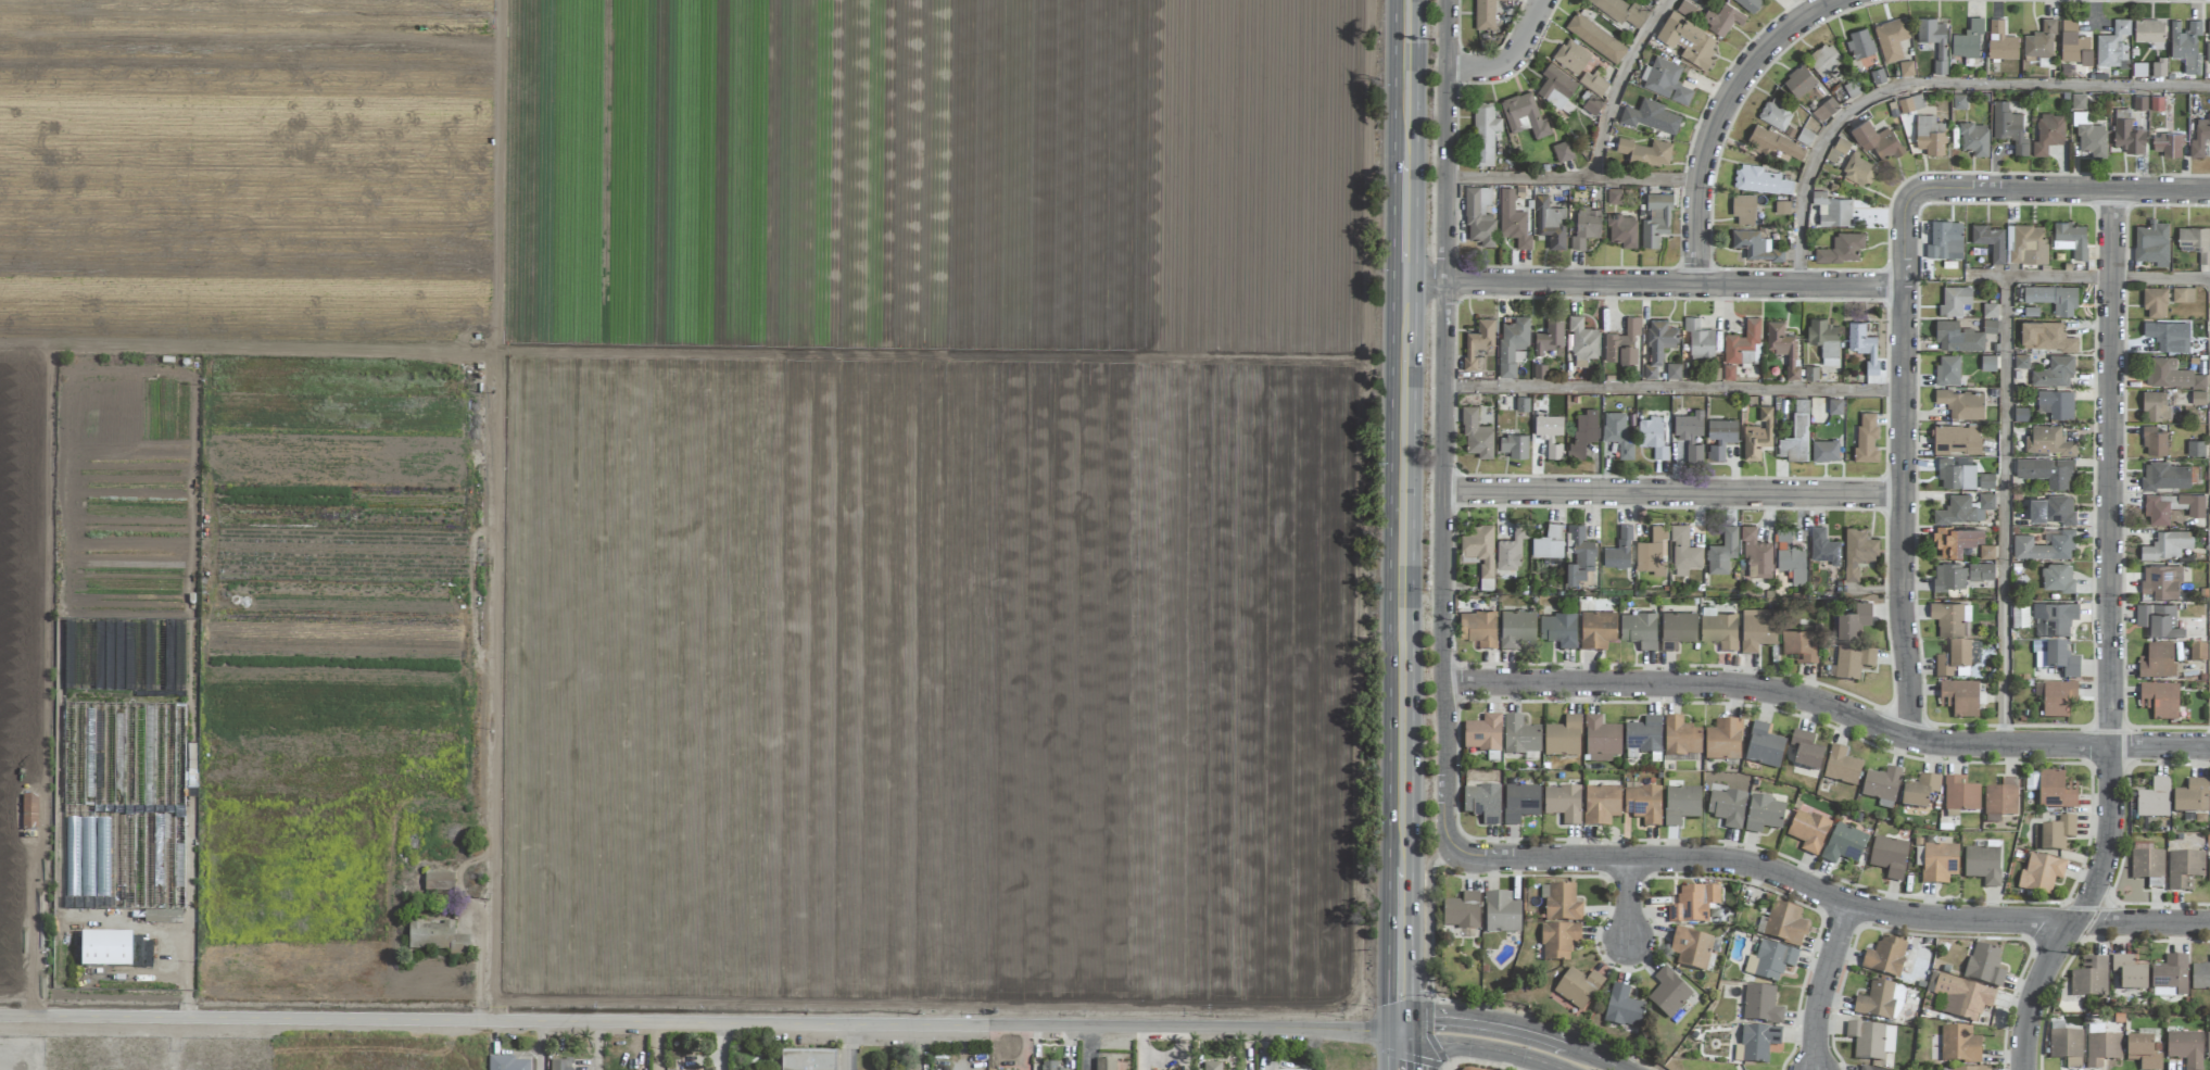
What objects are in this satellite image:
building: (1655, 0)
building: (1750, 3)
building: (1621, 11)
building: (1485, 14)
building: (1722, 18)
building: (2208, 27)
building: (2148, 30)
building: (1688, 36)
building: (1595, 38)
building: (1891, 38)
building: (1934, 40)
building: (2000, 41)
building: (2041, 41)
building: (1968, 42)
building: (1860, 43)
building: (2074, 43)
building: (2112, 45)
building: (2185, 45)
building: (2208, 52)
building: (1571, 56)
road: (1511, 59)
building: (1824, 60)
building: (1906, 68)
building: (2159, 70)
building: (1667, 80)
building: (1798, 81)
building: (1592, 83)
road: (1619, 84)
road: (1935, 85)
building: (1556, 88)
building: (1959, 101)
building: (2139, 102)
building: (1910, 103)
building: (2157, 103)
building: (1591, 105)
building: (1826, 110)
building: (1776, 114)
building: (1524, 115)
road: (1719, 115)
building: (1651, 116)
building: (2009, 127)
building: (1485, 133)
building: (2127, 133)
building: (2048, 134)
building: (1930, 135)
building: (2089, 136)
building: (2199, 137)
building: (1974, 138)
road: (1404, 140)
road: (1445, 140)
building: (1877, 140)
building: (1773, 144)
building: (2167, 144)
building: (1838, 149)
building: (1563, 151)
building: (1646, 152)
building: (1858, 171)
road: (1571, 178)
building: (1761, 180)
road: (2059, 190)
building: (1744, 210)
building: (1832, 210)
building: (1479, 216)
building: (1656, 219)
building: (1513, 221)
building: (1551, 223)
building: (1586, 227)
building: (1622, 230)
building: (1944, 238)
building: (2070, 239)
building: (1990, 240)
building: (2195, 242)
building: (2152, 243)
building: (2026, 244)
building: (1755, 246)
building: (1842, 249)
road: (2089, 277)
road: (1423, 280)
road: (1672, 282)
building: (2183, 294)
building: (2054, 298)
building: (1955, 300)
building: (2155, 302)
building: (1990, 310)
building: (1988, 326)
road: (1430, 328)
building: (2162, 336)
building: (1550, 337)
building: (2045, 337)
building: (1958, 338)
building: (1700, 340)
building: (1824, 340)
building: (1478, 341)
building: (1582, 341)
building: (1622, 343)
building: (1744, 343)
building: (1512, 344)
building: (1862, 344)
building: (1782, 348)
building: (1658, 349)
building: (2021, 361)
building: (1988, 363)
building: (1947, 370)
building: (1672, 372)
building: (1810, 373)
building: (2055, 373)
building: (2171, 374)
road: (1672, 388)
building: (1961, 403)
building: (2056, 403)
building: (1834, 406)
building: (2156, 406)
building: (1583, 432)
building: (1550, 433)
building: (1618, 433)
building: (1476, 435)
building: (1690, 435)
building: (1757, 435)
building: (1796, 435)
building: (1652, 436)
building: (1720, 438)
building: (1867, 438)
building: (1957, 439)
building: (2048, 441)
building: (2155, 441)
building: (1514, 445)
building: (2196, 448)
building: (1824, 451)
road: (1903, 467)
building: (2046, 471)
building: (1956, 475)
building: (2165, 476)
building: (1985, 480)
road: (1671, 493)
crop: (682, 494)
building: (2171, 507)
building: (1965, 508)
building: (2053, 509)
road: (2005, 511)
building: (1956, 540)
building: (1549, 542)
building: (2168, 545)
building: (1823, 546)
building: (2045, 546)
building: (1479, 547)
building: (1511, 549)
building: (1619, 550)
building: (1683, 551)
building: (1652, 552)
building: (1722, 552)
building: (1857, 552)
building: (1756, 555)
building: (1790, 556)
road: (1441, 563)
road: (2108, 563)
building: (1981, 571)
building: (1949, 577)
building: (2057, 578)
building: (2161, 581)
building: (2019, 614)
building: (1952, 619)
building: (2054, 619)
building: (1853, 620)
building: (2159, 622)
building: (1516, 628)
building: (1478, 629)
building: (1719, 629)
building: (1757, 629)
building: (1558, 630)
building: (1596, 630)
building: (1639, 630)
building: (1677, 630)
building: (1799, 645)
building: (2197, 654)
road: (1402, 655)
building: (2055, 658)
building: (1956, 660)
building: (1852, 663)
building: (2156, 663)
building: (1959, 698)
building: (2057, 700)
building: (2159, 701)
road: (1827, 708)
building: (1482, 734)
building: (1643, 735)
building: (1519, 737)
building: (1563, 738)
building: (1680, 739)
building: (1601, 741)
building: (1722, 741)
building: (1805, 751)
building: (1841, 767)
building: (1881, 786)
building: (2055, 791)
building: (1919, 794)
building: (1959, 795)
building: (2154, 800)
building: (2193, 800)
building: (1999, 801)
building: (1519, 803)
building: (1481, 804)
building: (1562, 804)
building: (1600, 805)
building: (1642, 805)
building: (1680, 805)
building: (1726, 808)
building: (1764, 815)
building: (1807, 831)
building: (2053, 834)
building: (1843, 845)
building: (1887, 857)
building: (1939, 864)
building: (1982, 865)
building: (2147, 867)
building: (2183, 869)
building: (2208, 870)
building: (2039, 874)
building: (438, 882)
building: (101, 883)
road: (1826, 894)
road: (1626, 898)
building: (1559, 904)
building: (1693, 905)
building: (1461, 911)
building: (1501, 914)
building: (162, 917)
road: (1427, 917)
building: (1783, 924)
road: (1430, 928)
road: (153, 931)
building: (435, 939)
building: (1557, 942)
building: (1691, 949)
building: (113, 951)
building: (1884, 957)
building: (1769, 961)
road: (480, 967)
building: (1983, 967)
building: (2129, 973)
building: (2170, 974)
building: (2200, 977)
building: (2089, 979)
road: (1822, 984)
building: (1575, 991)
road: (2034, 993)
building: (1667, 994)
building: (1961, 998)
building: (1876, 1002)
road: (186, 1005)
building: (1760, 1006)
building: (1621, 1008)
road: (1544, 1020)
road: (700, 1024)
road: (1512, 1029)
traffic signals: (1401, 1031)
building: (1870, 1041)
building: (1756, 1043)
building: (1959, 1045)
road: (539, 1046)
road: (595, 1046)
building: (2208, 1046)
road: (658, 1047)
road: (722, 1047)
road: (851, 1047)
building: (2066, 1047)
road: (935, 1048)
road: (1388, 1048)
road: (1479, 1048)
building: (2185, 1048)
road: (1411, 1049)
building: (2101, 1049)
building: (2142, 1053)
building: (807, 1060)
building: (505, 1063)
building: (559, 1065)
building: (1104, 1065)
building: (1047, 1066)
building: (1211, 1066)
road: (1442, 1066)
building: (1865, 1068)
building: (1499, 1069)
building: (1967, 1069)

